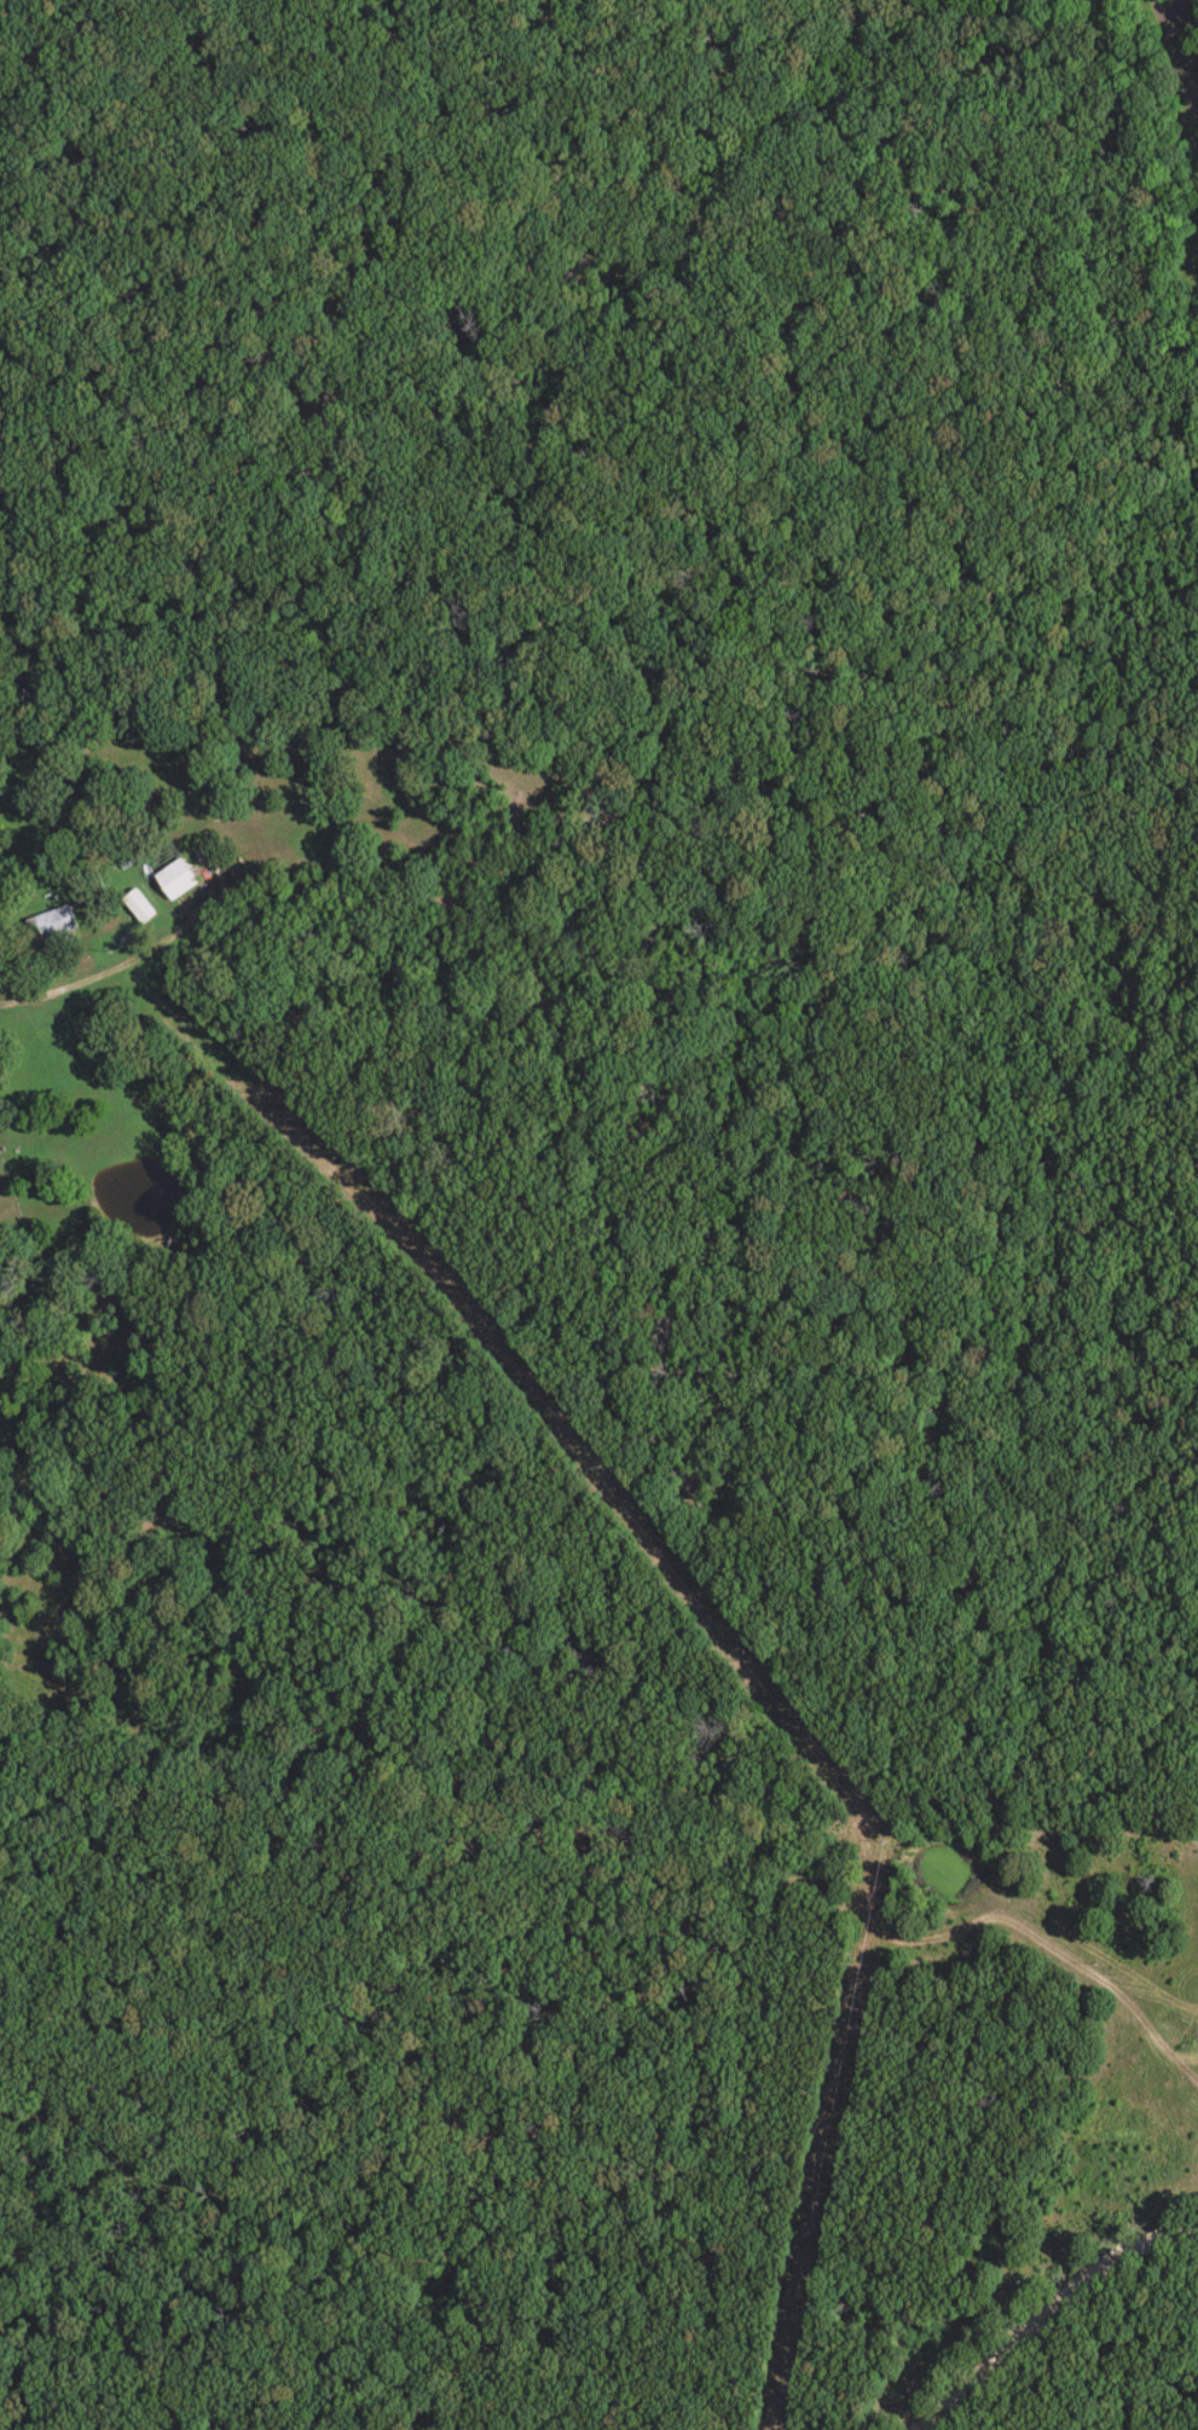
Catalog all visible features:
building: (178, 880)
building: (140, 907)
building: (53, 926)
road: (1047, 2313)

